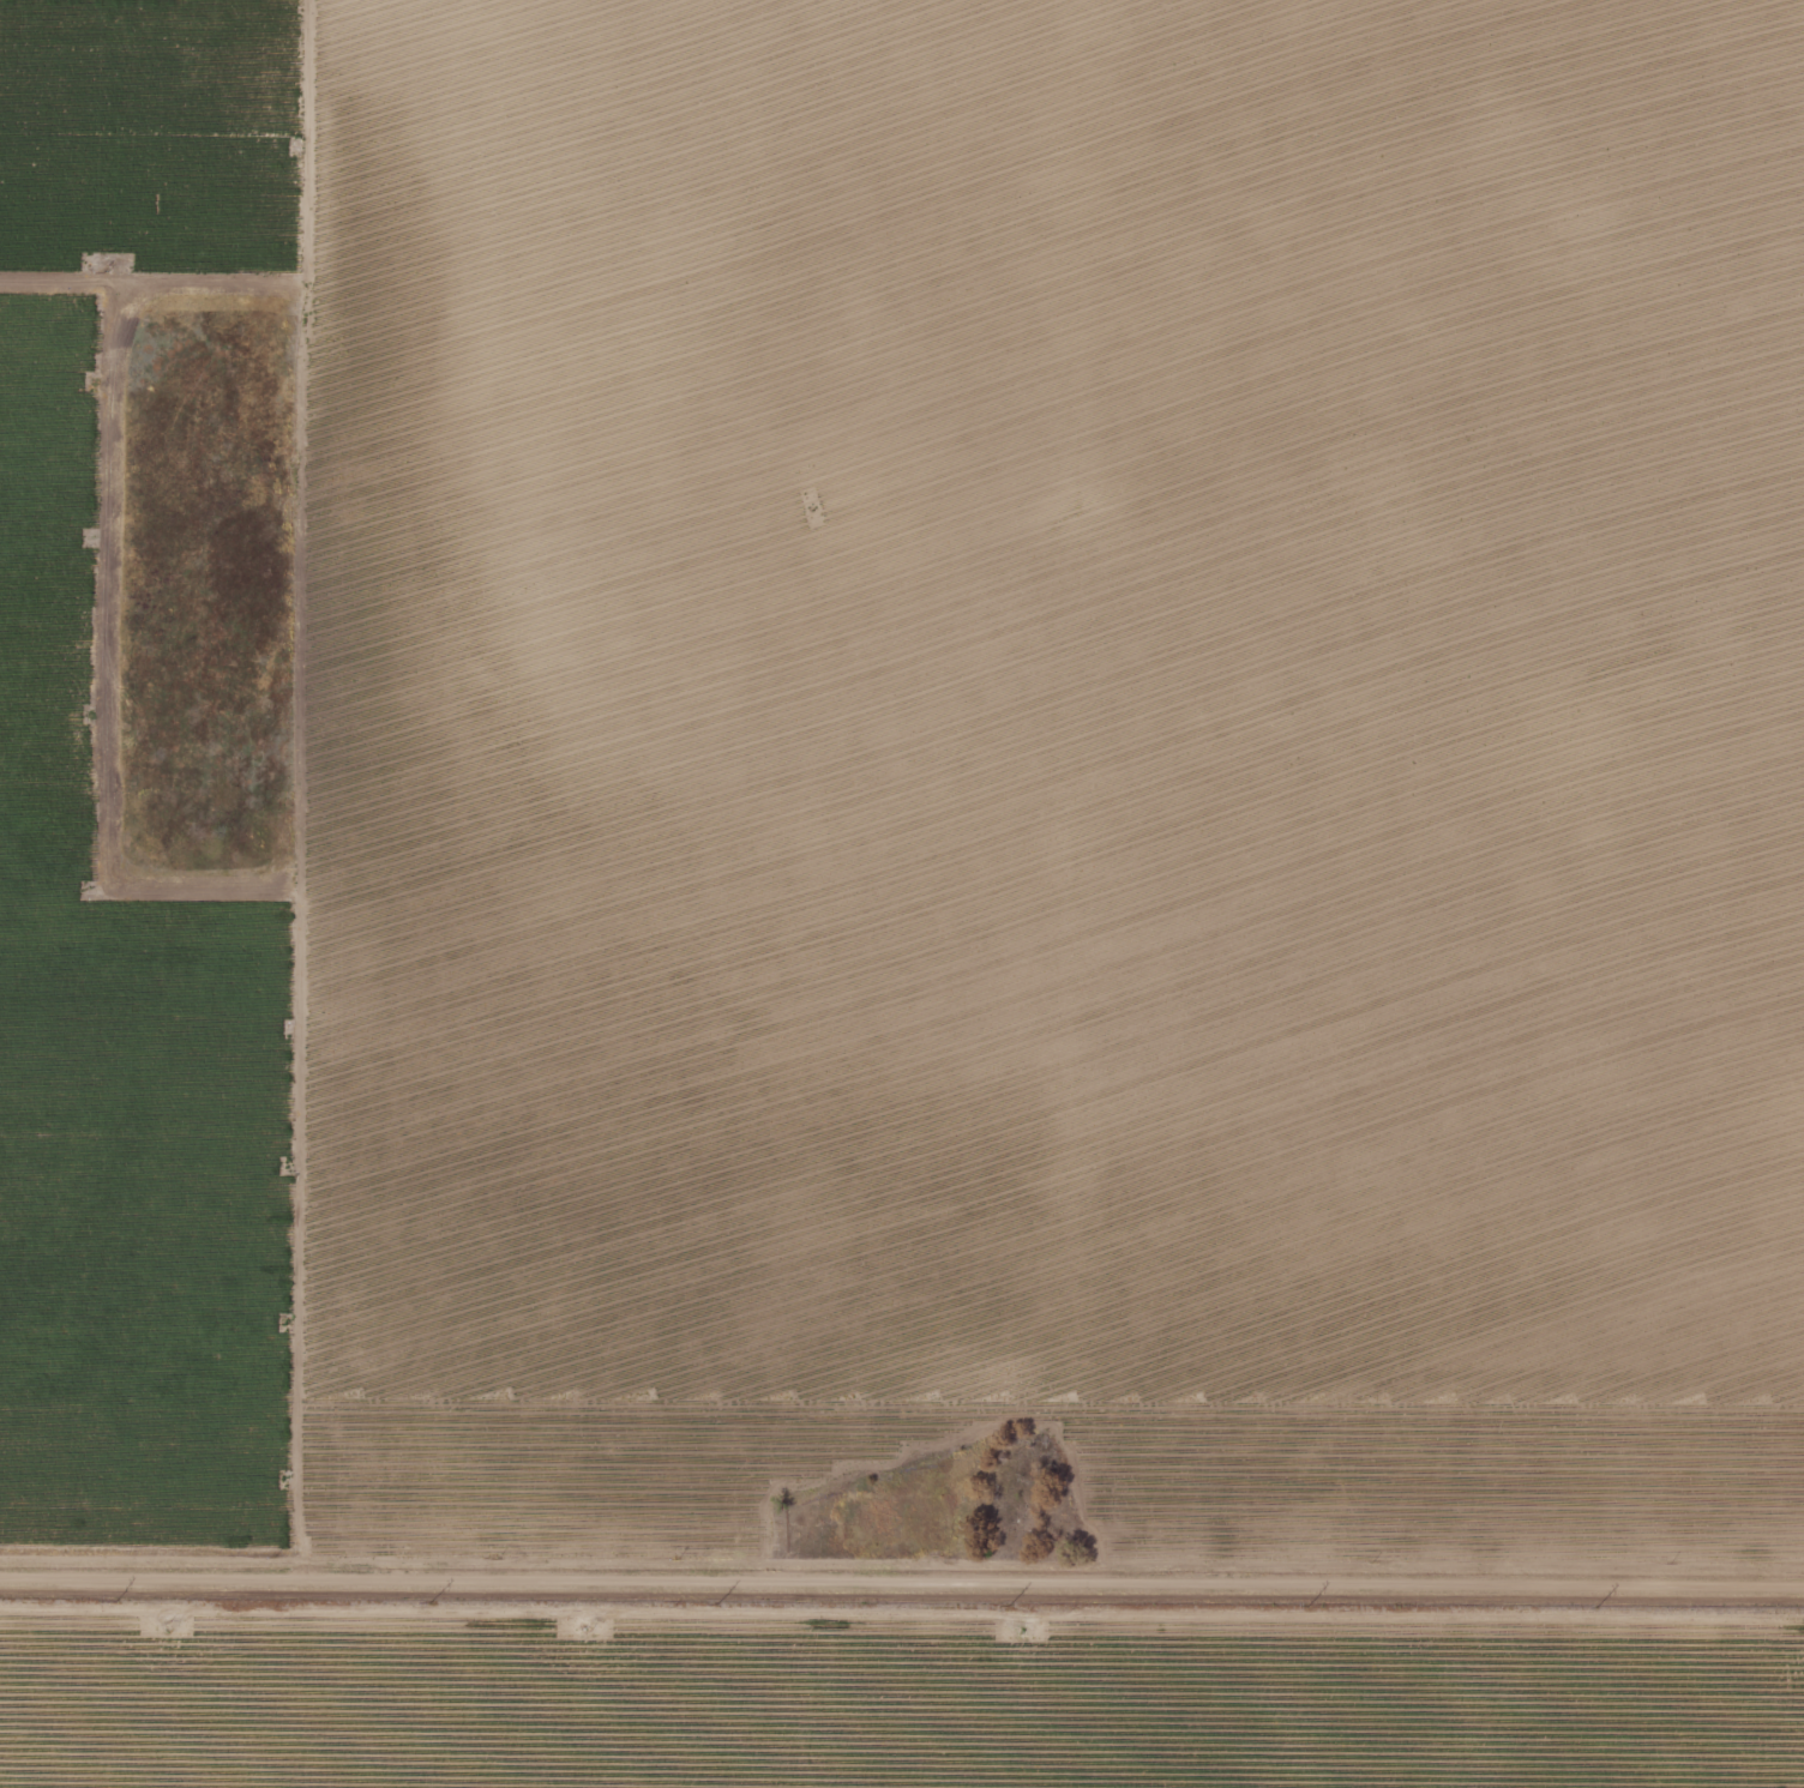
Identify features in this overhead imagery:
road: (902, 1587)

